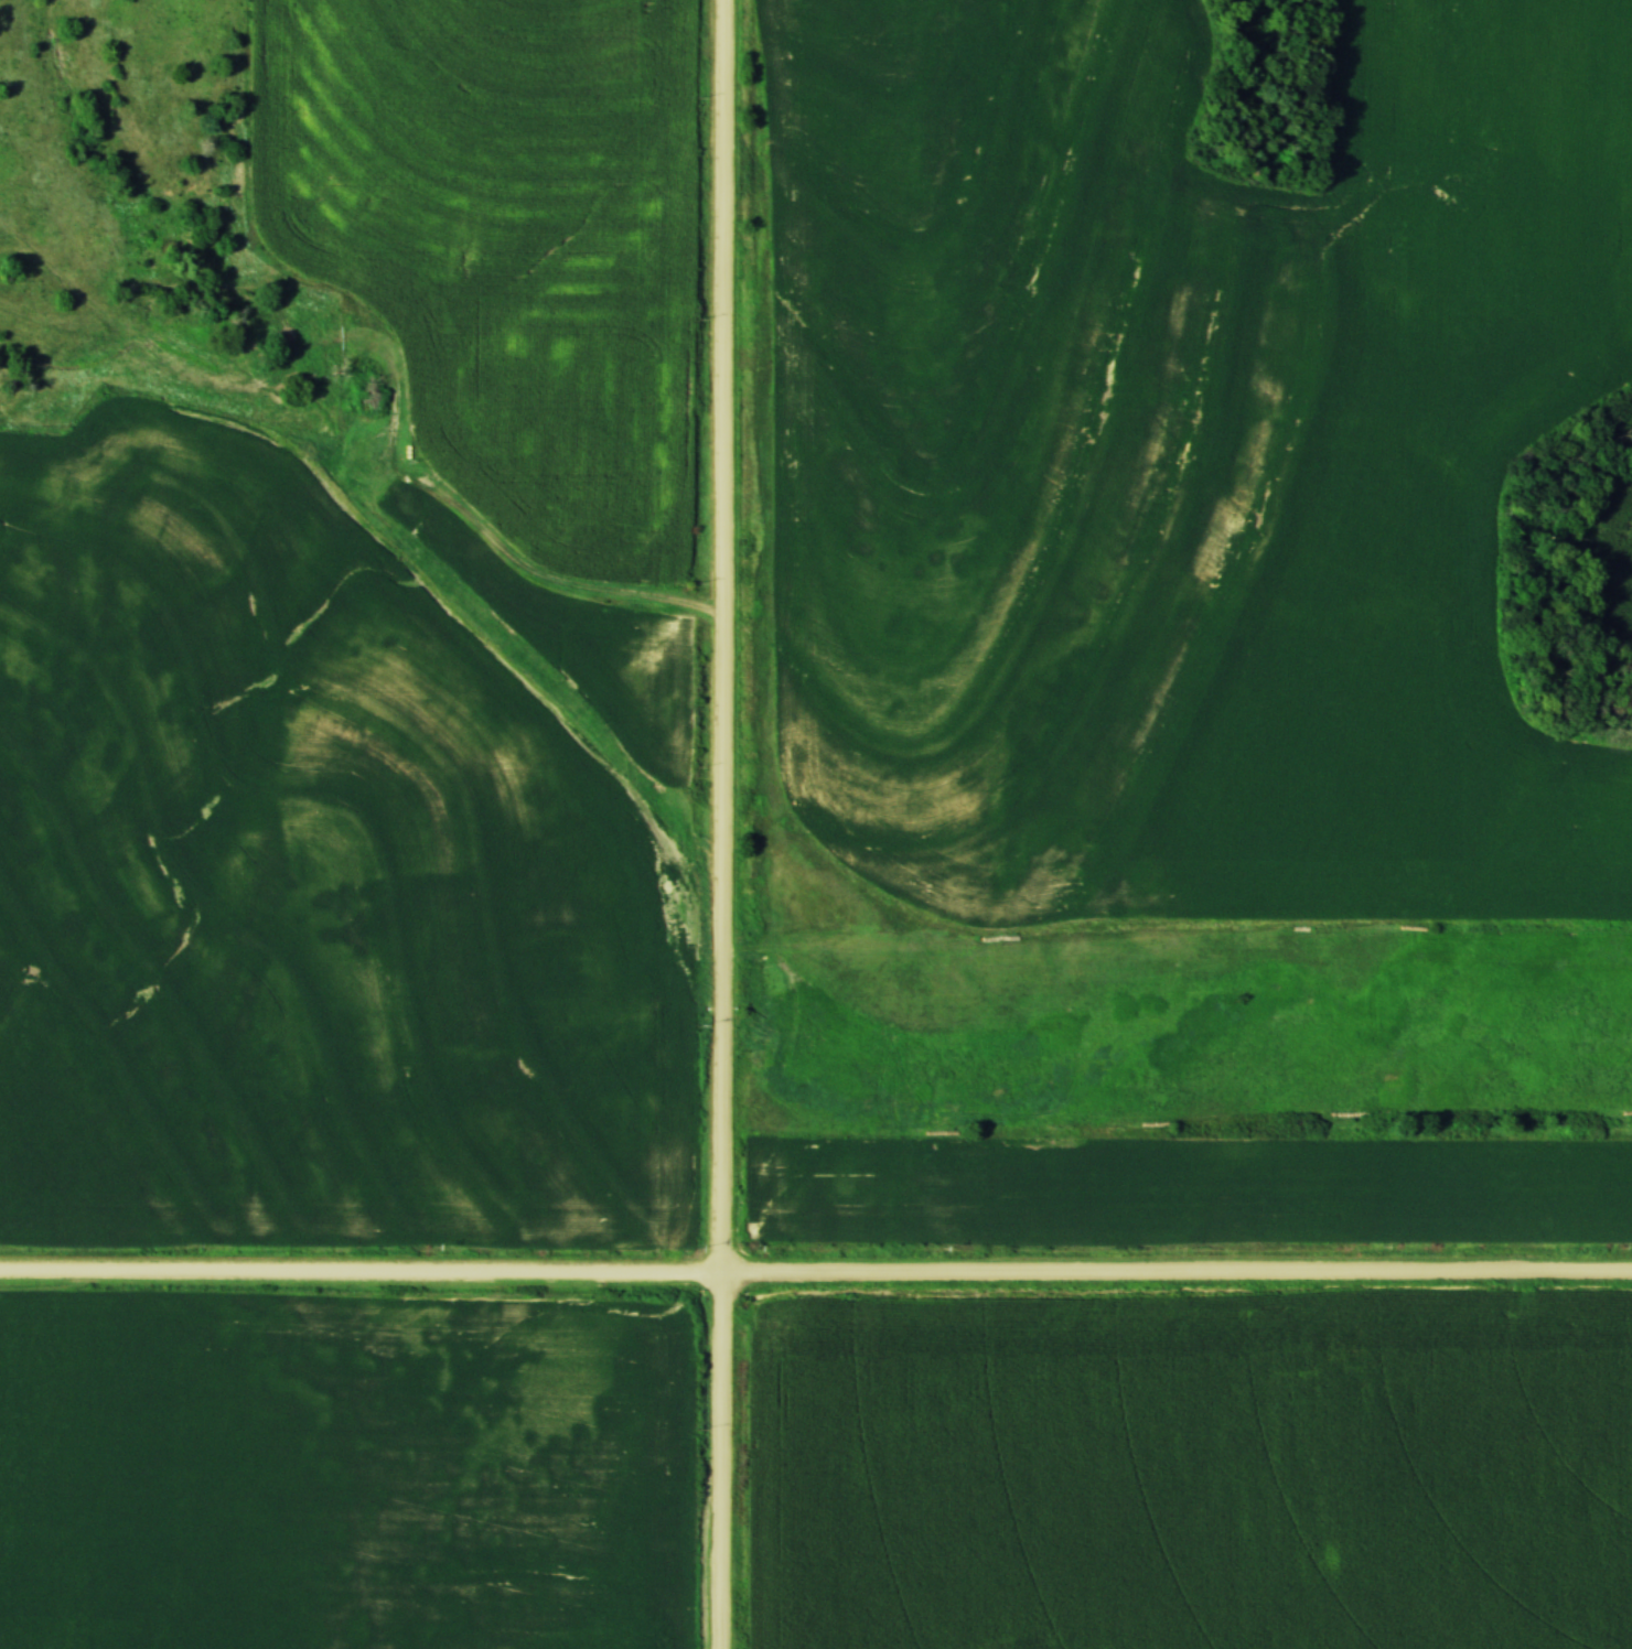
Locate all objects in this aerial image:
building: (372, 405)
road: (722, 824)
road: (815, 1271)

